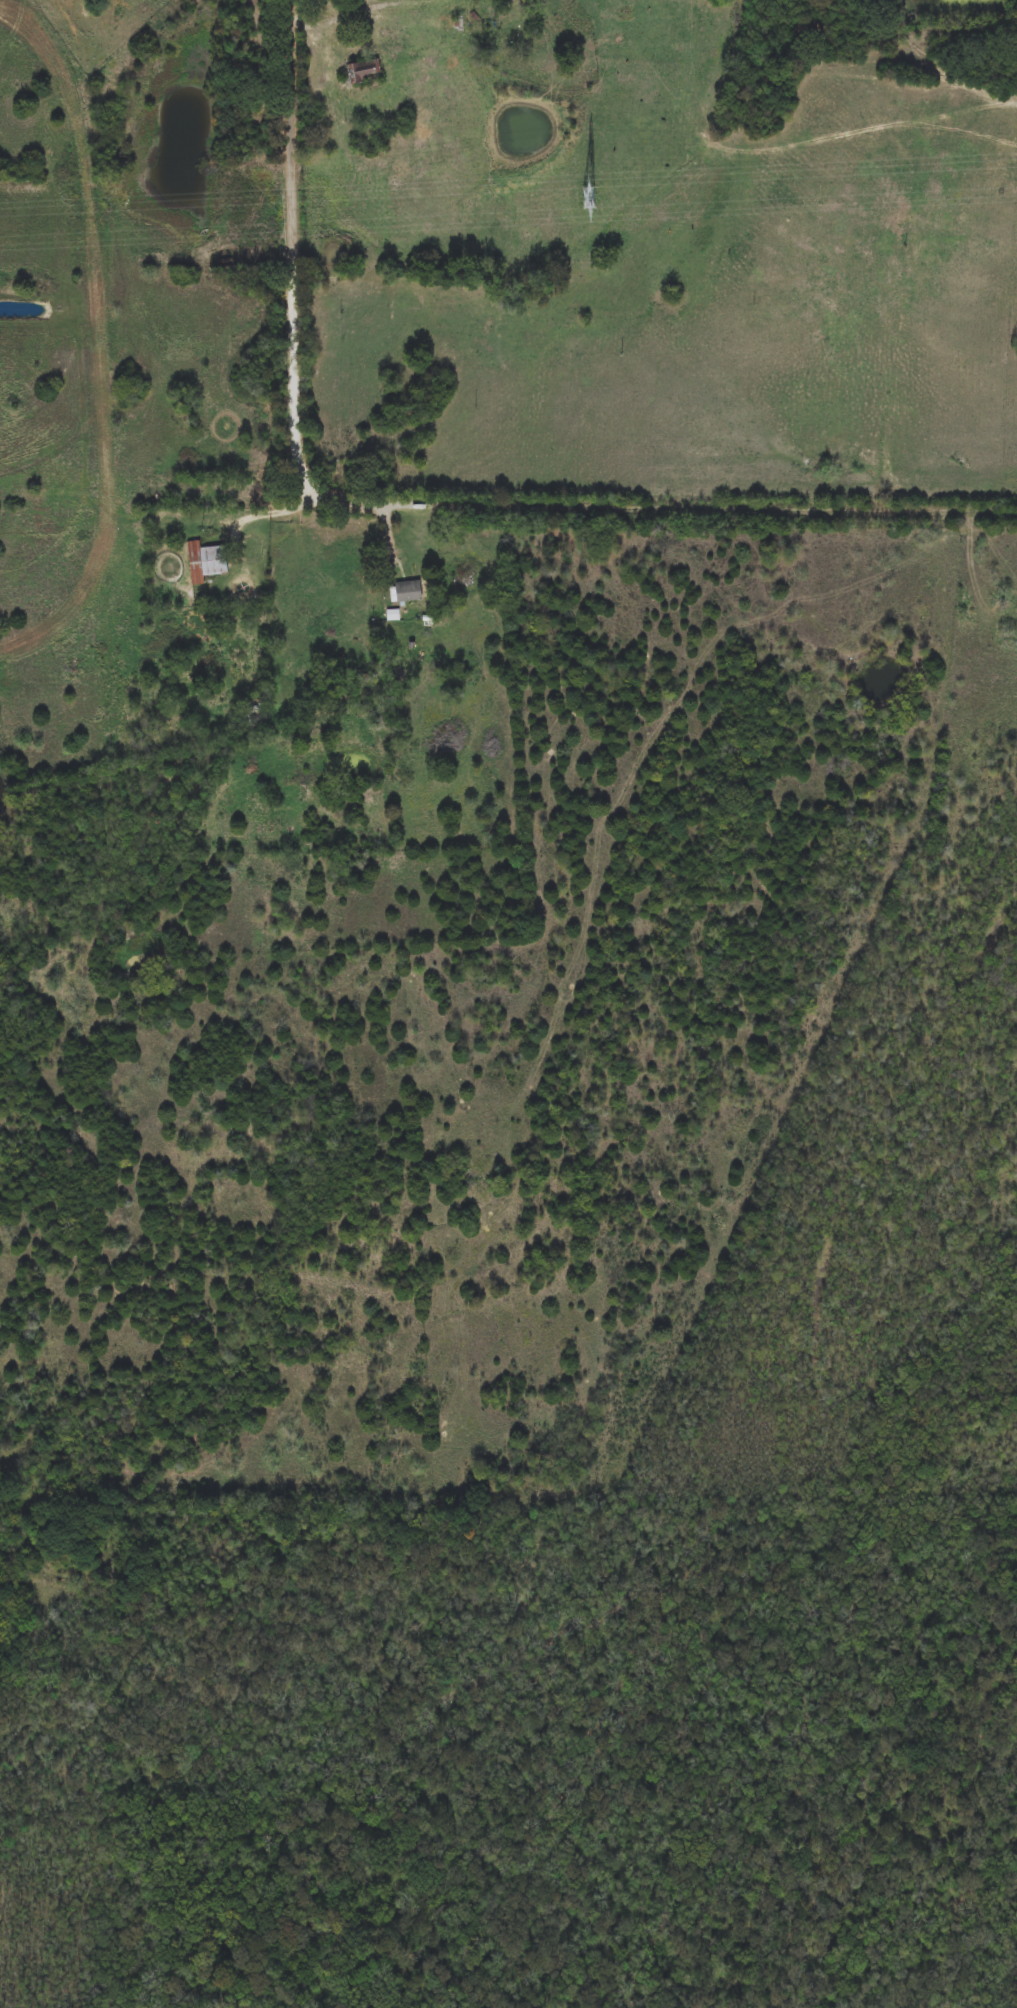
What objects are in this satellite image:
building: (363, 71)
power tower: (589, 198)
road: (294, 244)
road: (666, 506)
road: (264, 514)
road: (391, 537)
building: (206, 561)
building: (408, 591)

